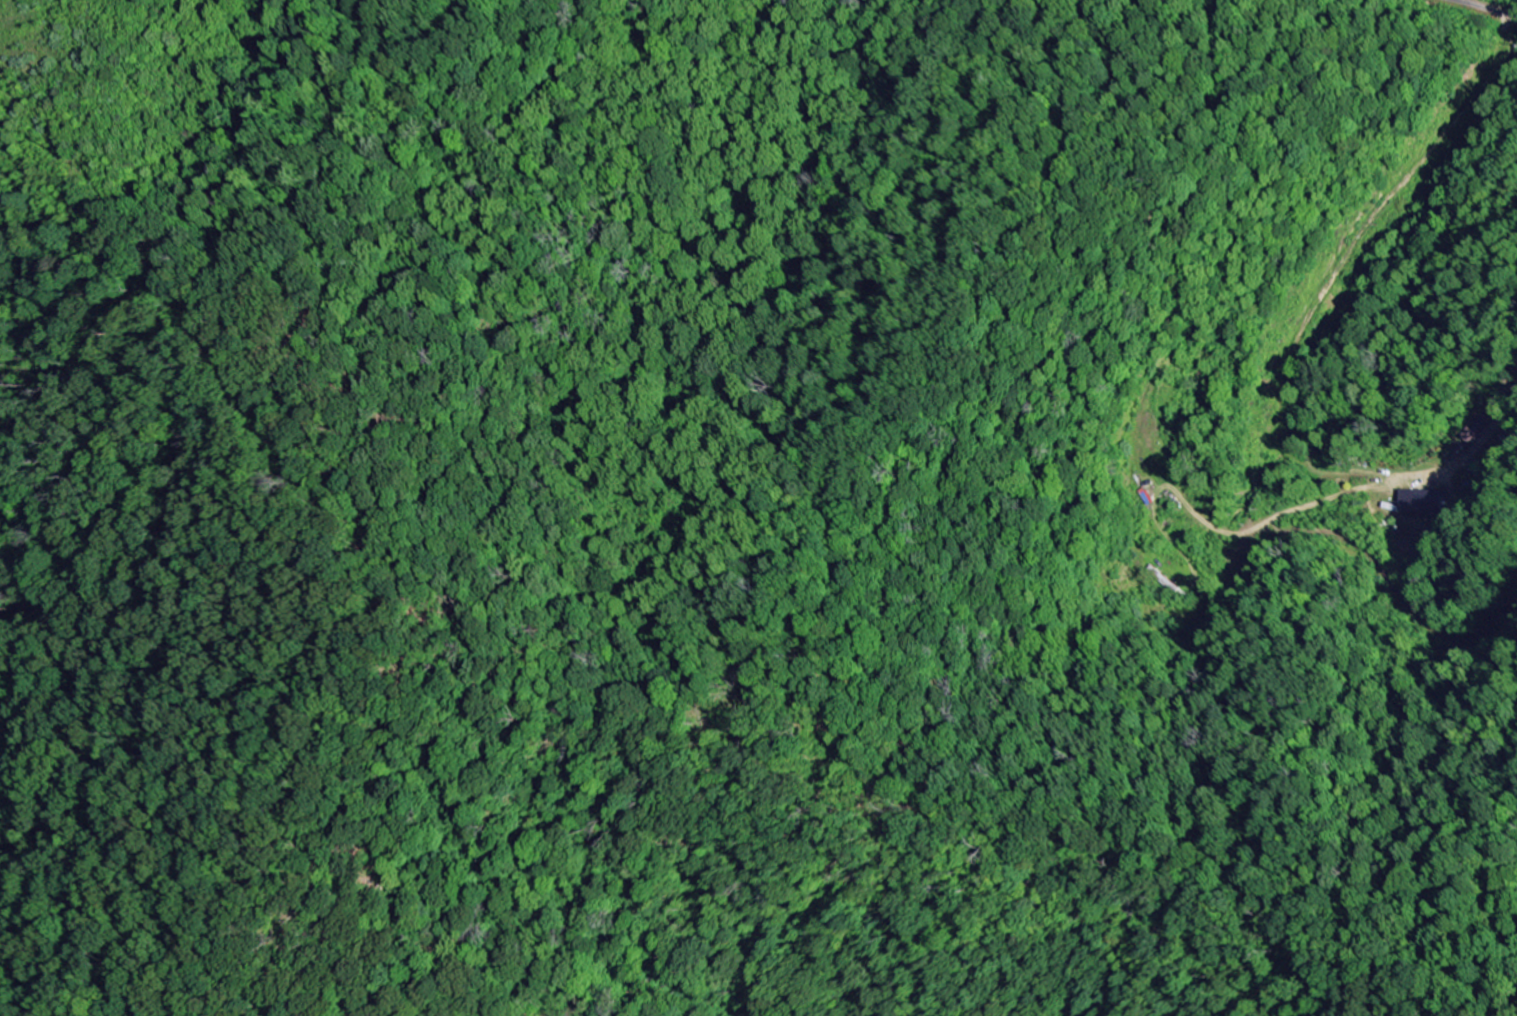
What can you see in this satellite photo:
road: (1477, 9)
road: (1283, 340)
building: (1476, 430)
building: (1414, 503)

